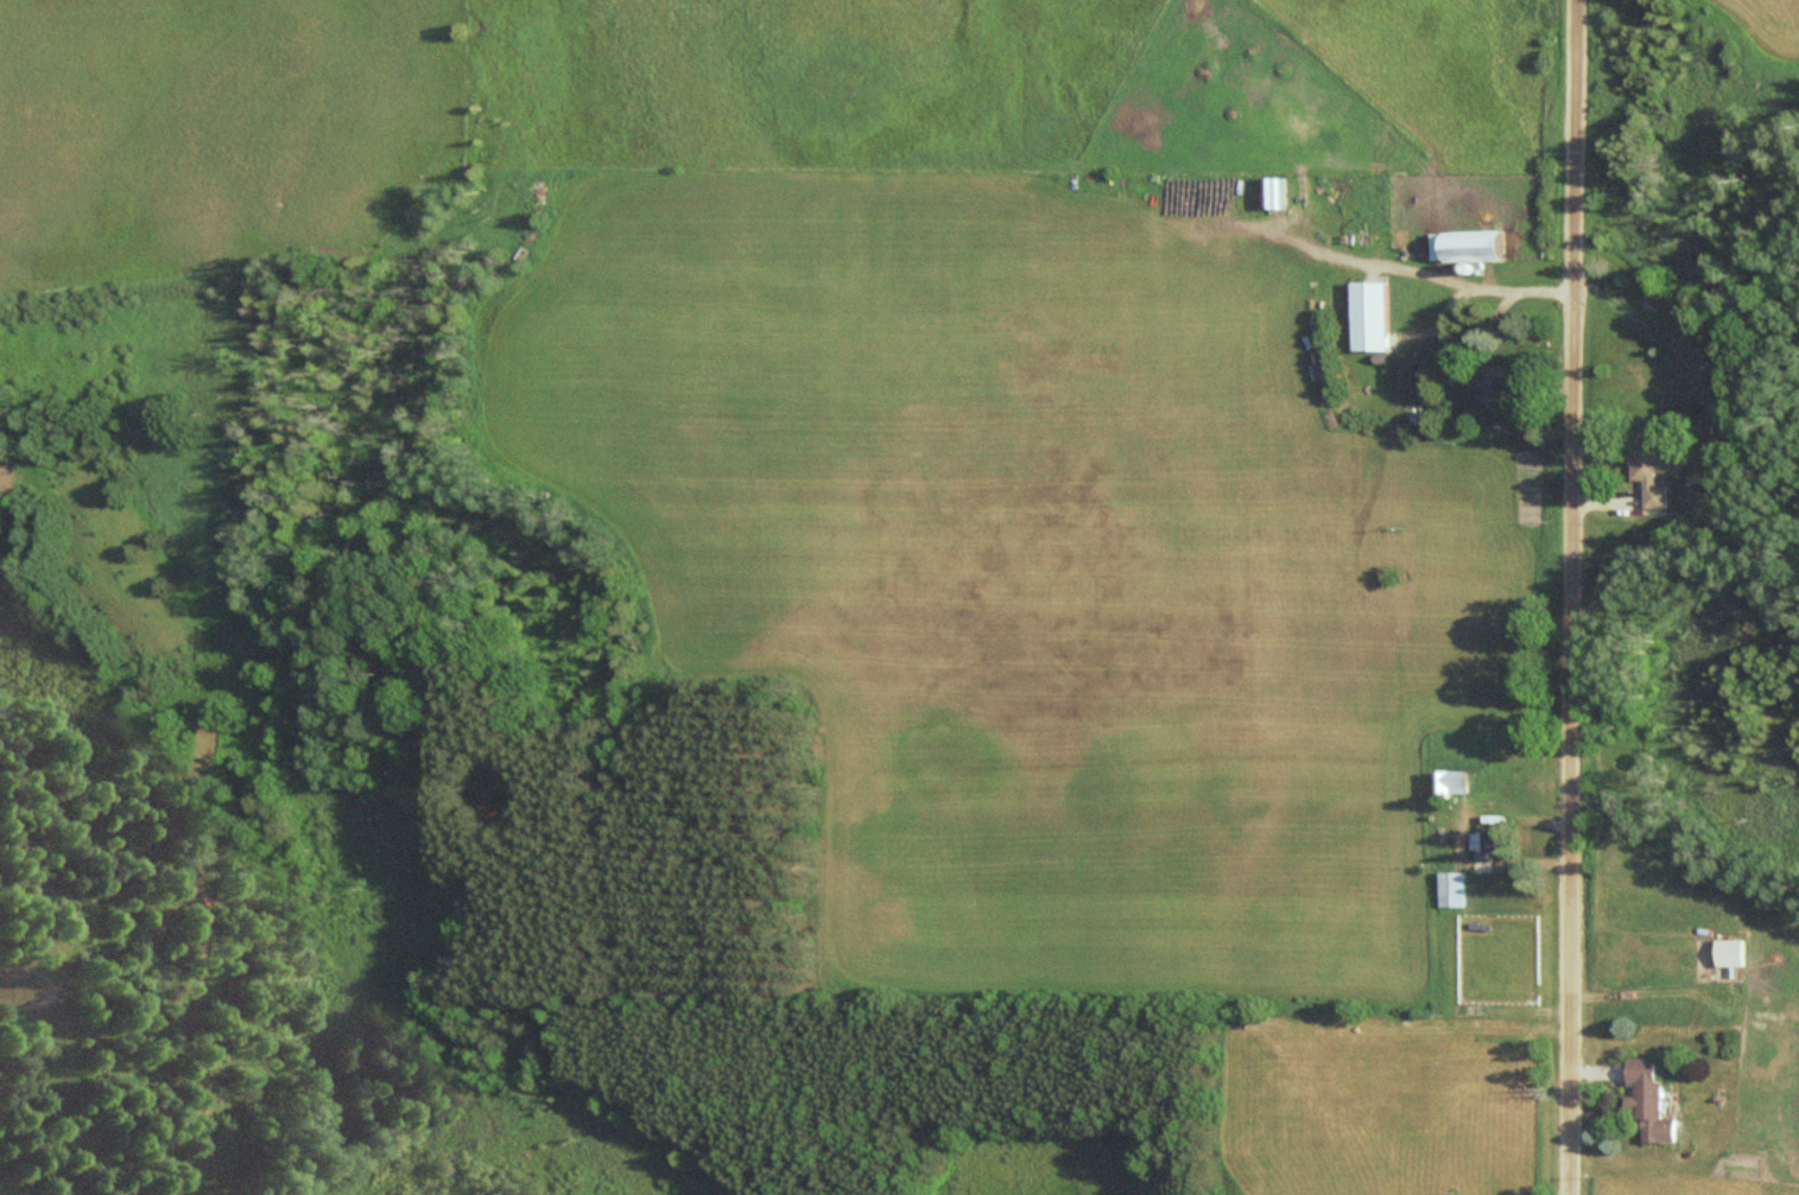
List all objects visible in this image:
building: (1278, 193)
building: (1477, 247)
building: (1375, 317)
building: (1455, 370)
building: (1499, 389)
building: (1659, 472)
road: (1572, 597)
building: (1461, 784)
building: (1493, 843)
building: (1456, 890)
building: (1736, 954)
building: (1655, 1101)

